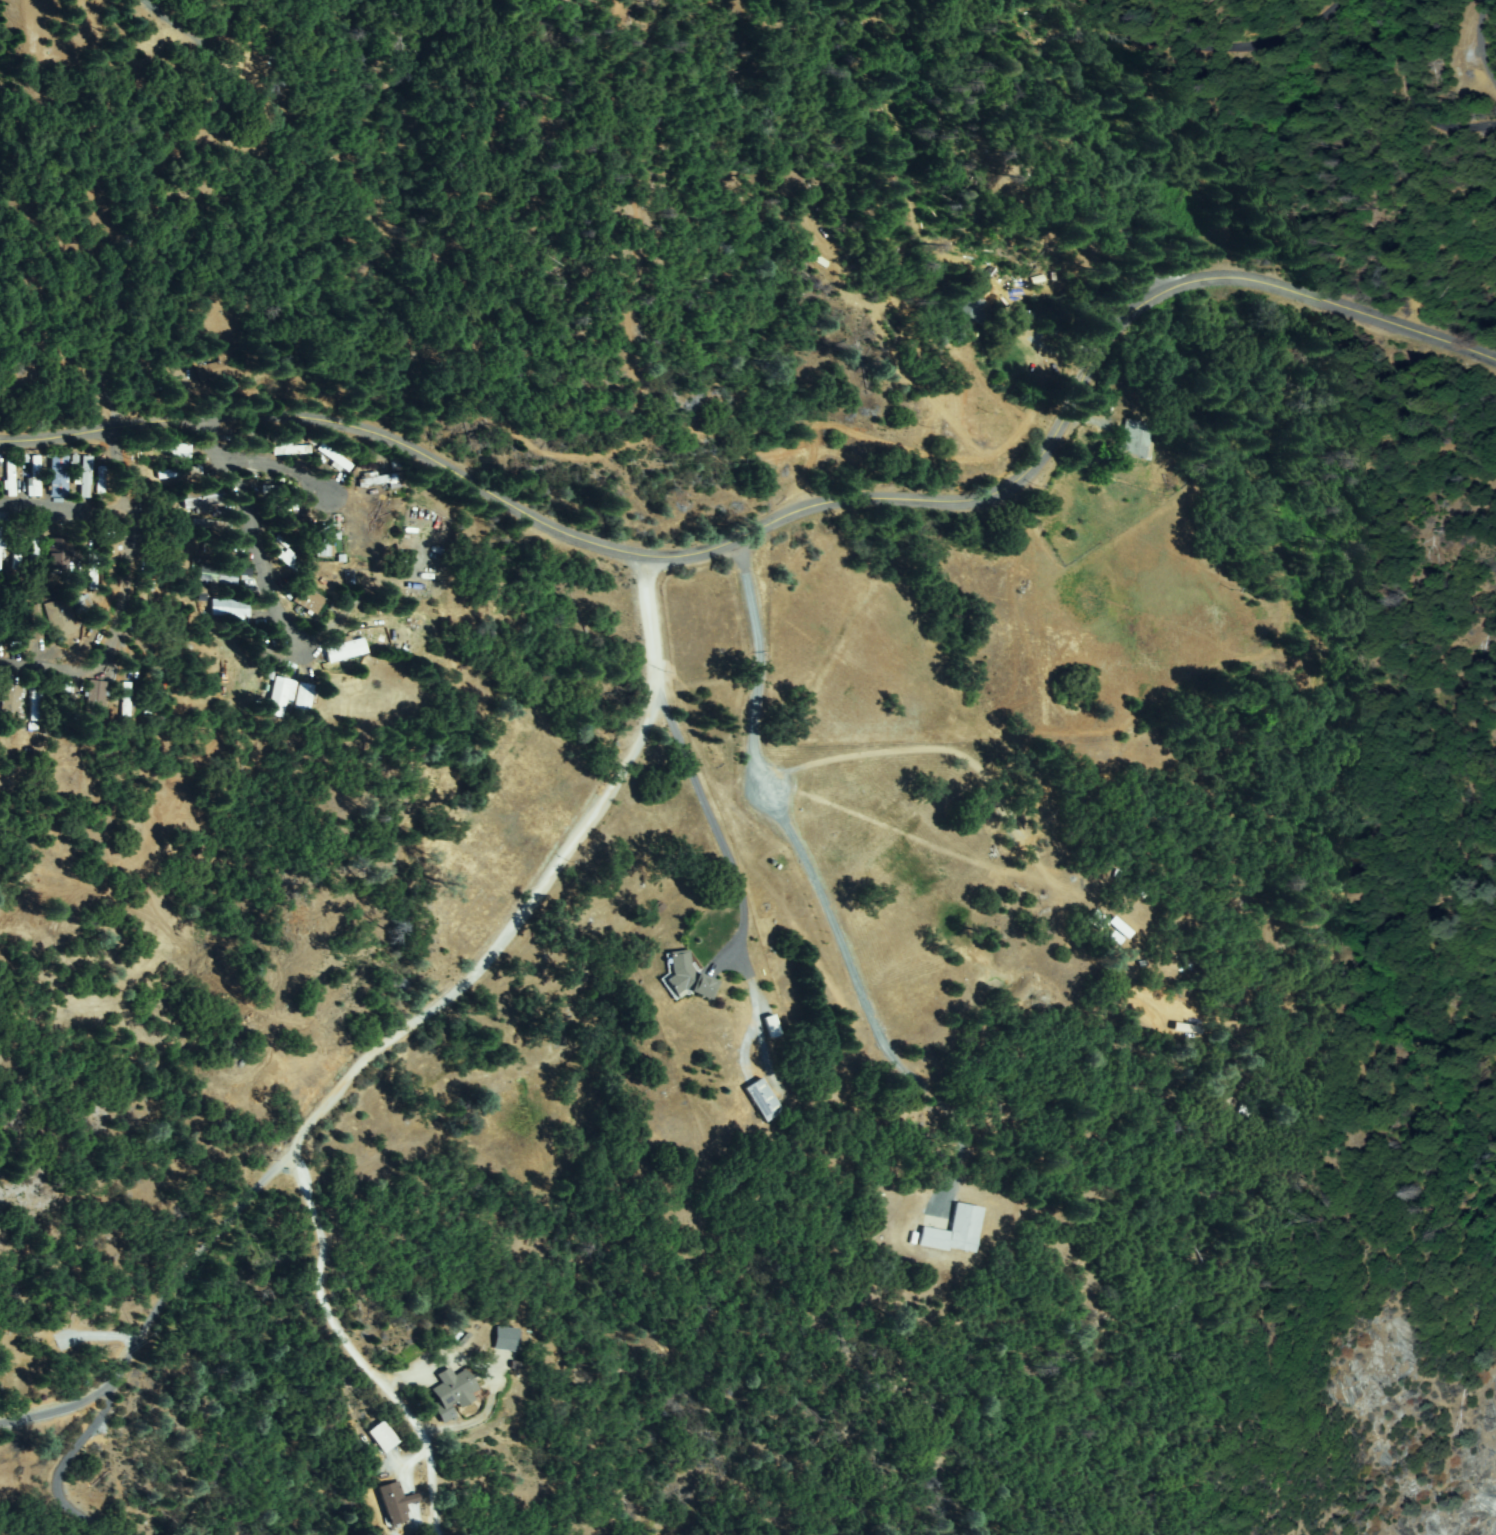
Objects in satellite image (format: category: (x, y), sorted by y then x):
road: (1069, 49)
road: (1415, 93)
building: (976, 307)
building: (1028, 318)
building: (219, 367)
building: (1134, 439)
building: (244, 440)
building: (173, 449)
building: (293, 449)
building: (334, 458)
building: (394, 466)
building: (11, 471)
building: (180, 474)
building: (60, 477)
building: (36, 478)
building: (84, 478)
building: (380, 480)
building: (99, 481)
building: (281, 491)
building: (204, 499)
building: (281, 507)
road: (786, 515)
building: (212, 526)
building: (358, 535)
building: (323, 540)
building: (1, 546)
building: (17, 551)
building: (59, 554)
building: (33, 557)
building: (111, 560)
building: (288, 561)
building: (89, 574)
building: (218, 577)
building: (142, 598)
building: (308, 600)
building: (80, 603)
building: (229, 610)
building: (15, 619)
building: (59, 619)
building: (35, 623)
building: (0, 642)
building: (346, 650)
building: (9, 695)
building: (278, 698)
building: (303, 698)
building: (64, 701)
building: (38, 703)
building: (125, 705)
building: (1117, 931)
building: (686, 977)
building: (771, 1027)
building: (1182, 1028)
road: (394, 1036)
building: (763, 1101)
building: (957, 1231)
building: (505, 1340)
building: (453, 1392)
building: (384, 1437)
building: (396, 1503)

